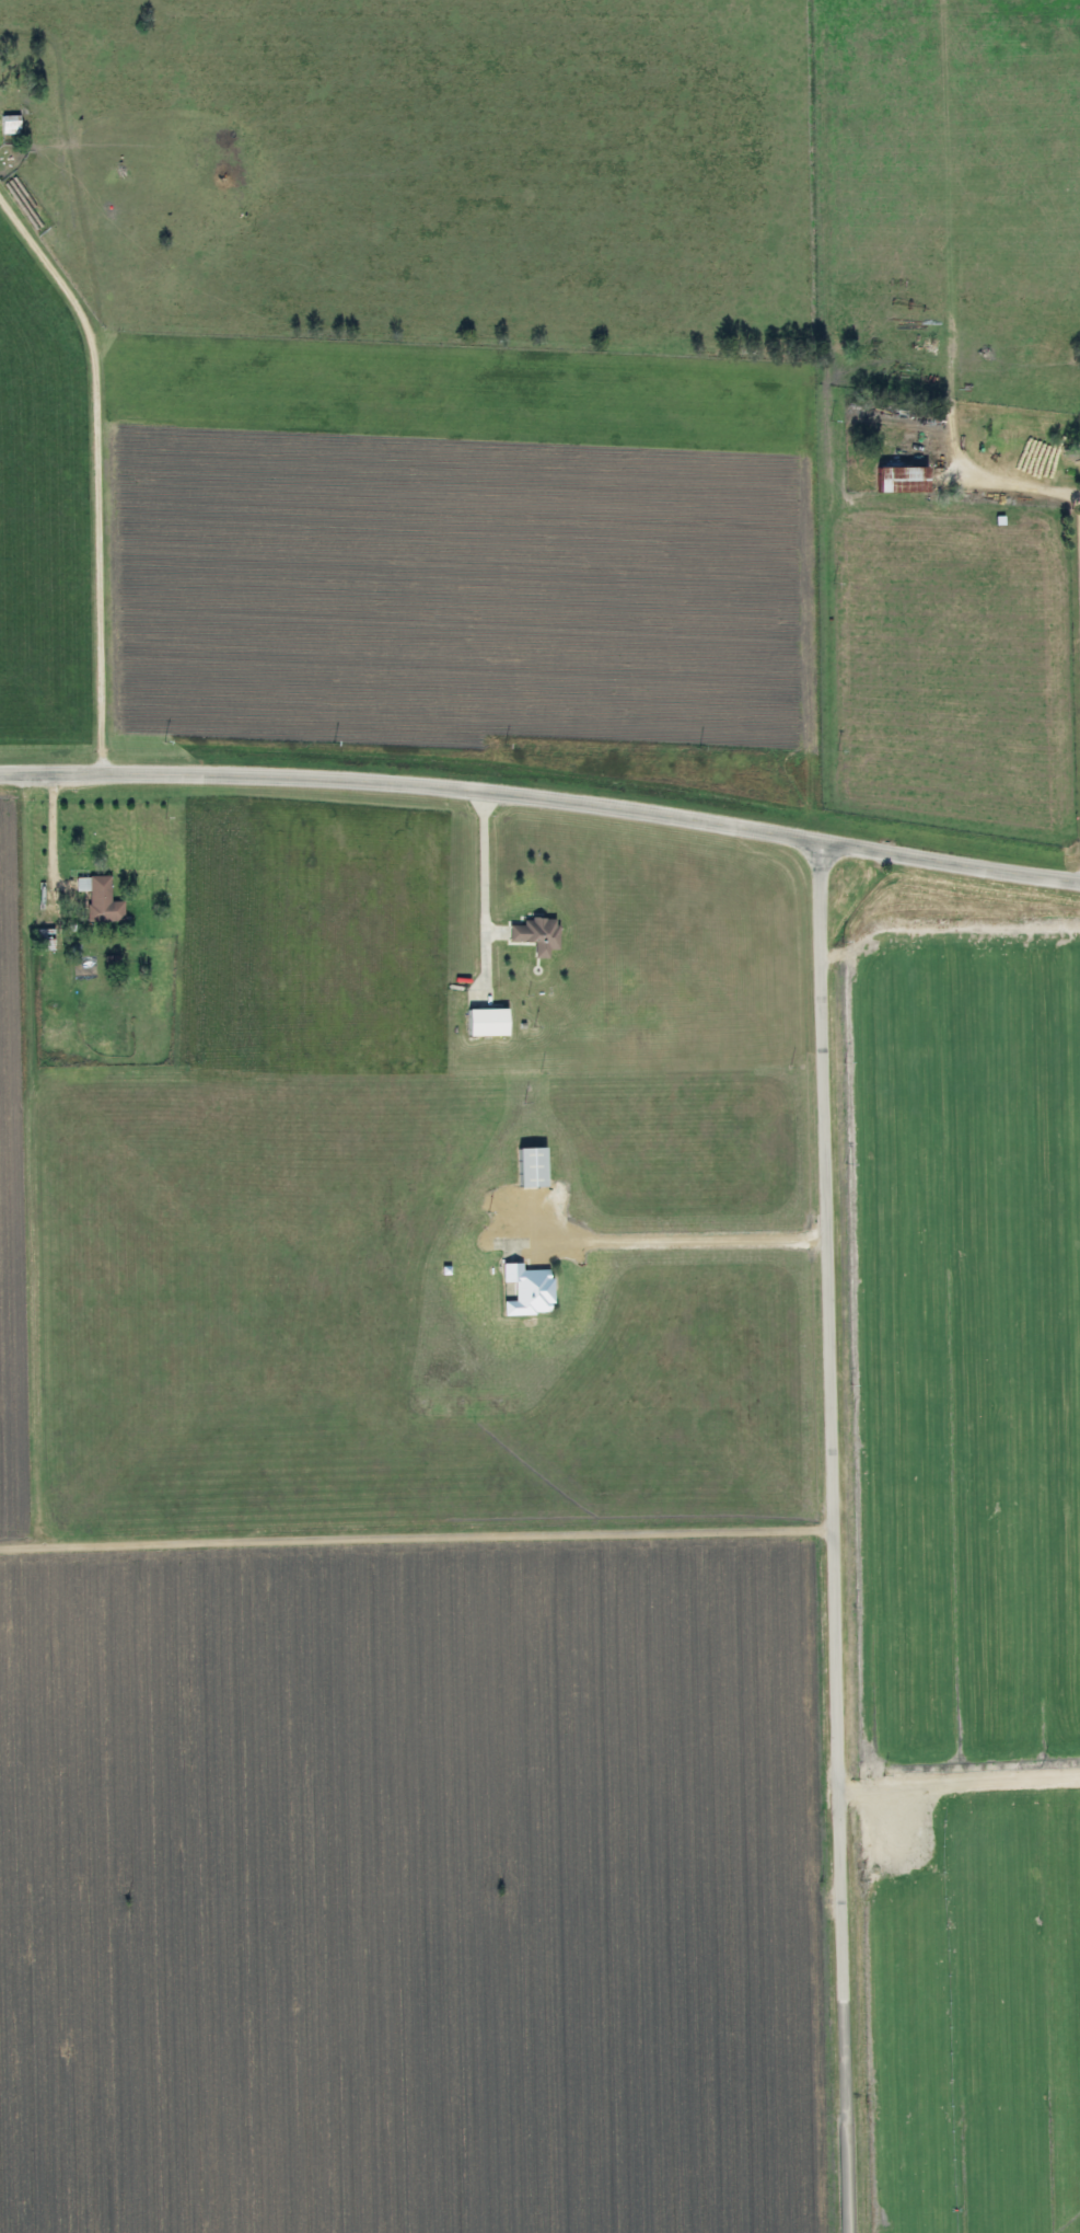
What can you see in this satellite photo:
building: (12, 124)
building: (889, 479)
road: (109, 488)
road: (1078, 620)
road: (542, 797)
road: (46, 829)
road: (476, 861)
building: (102, 898)
building: (477, 1022)
building: (522, 1167)
road: (677, 1240)
building: (516, 1291)
road: (414, 1533)
road: (828, 1538)
road: (957, 1780)

